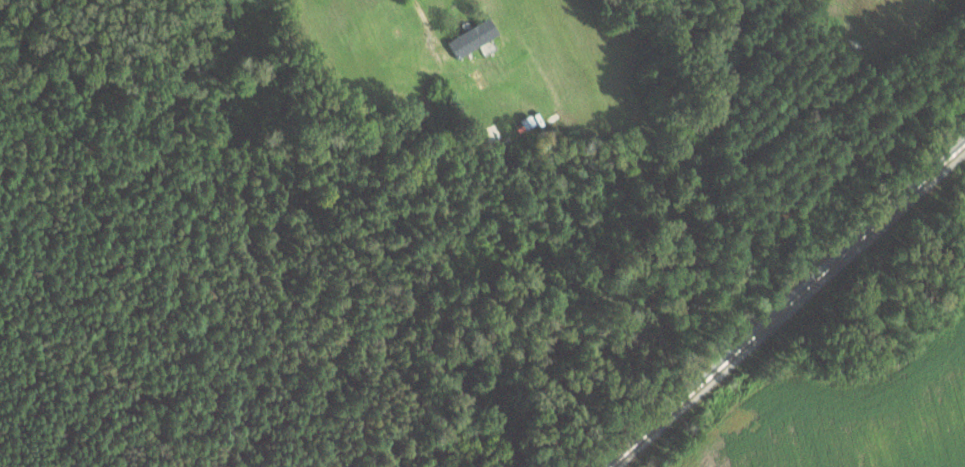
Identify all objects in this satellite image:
road: (421, 12)
building: (475, 37)
building: (449, 56)
railway: (788, 305)

